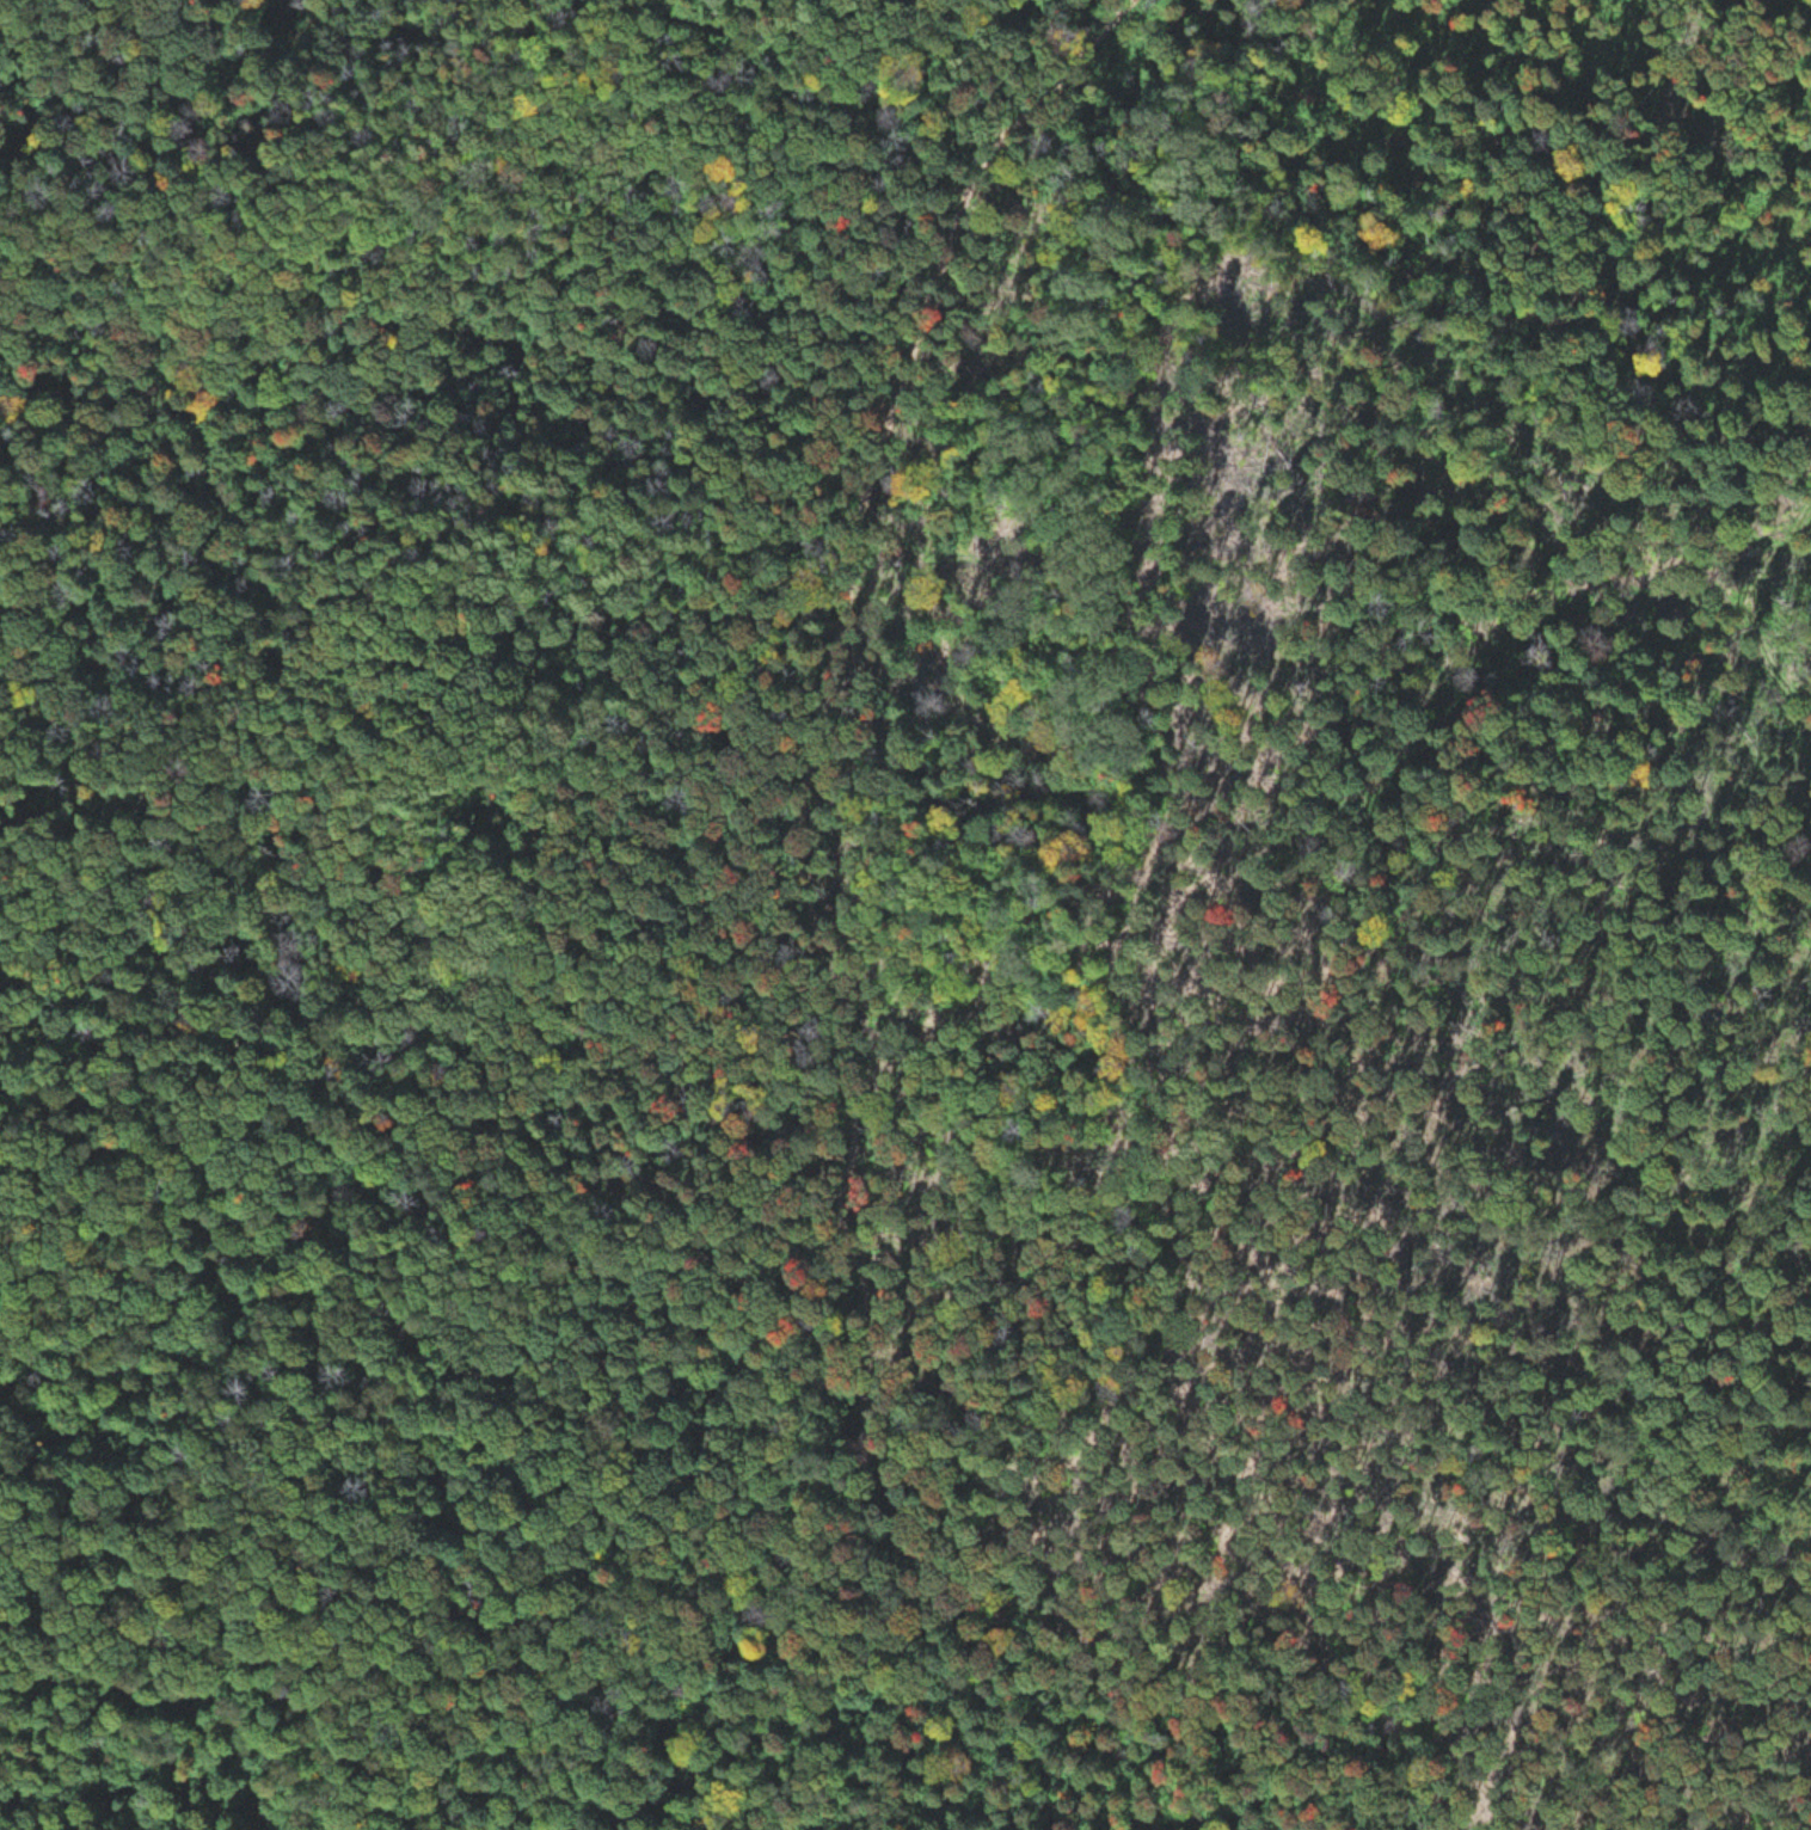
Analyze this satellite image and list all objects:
road: (822, 972)

